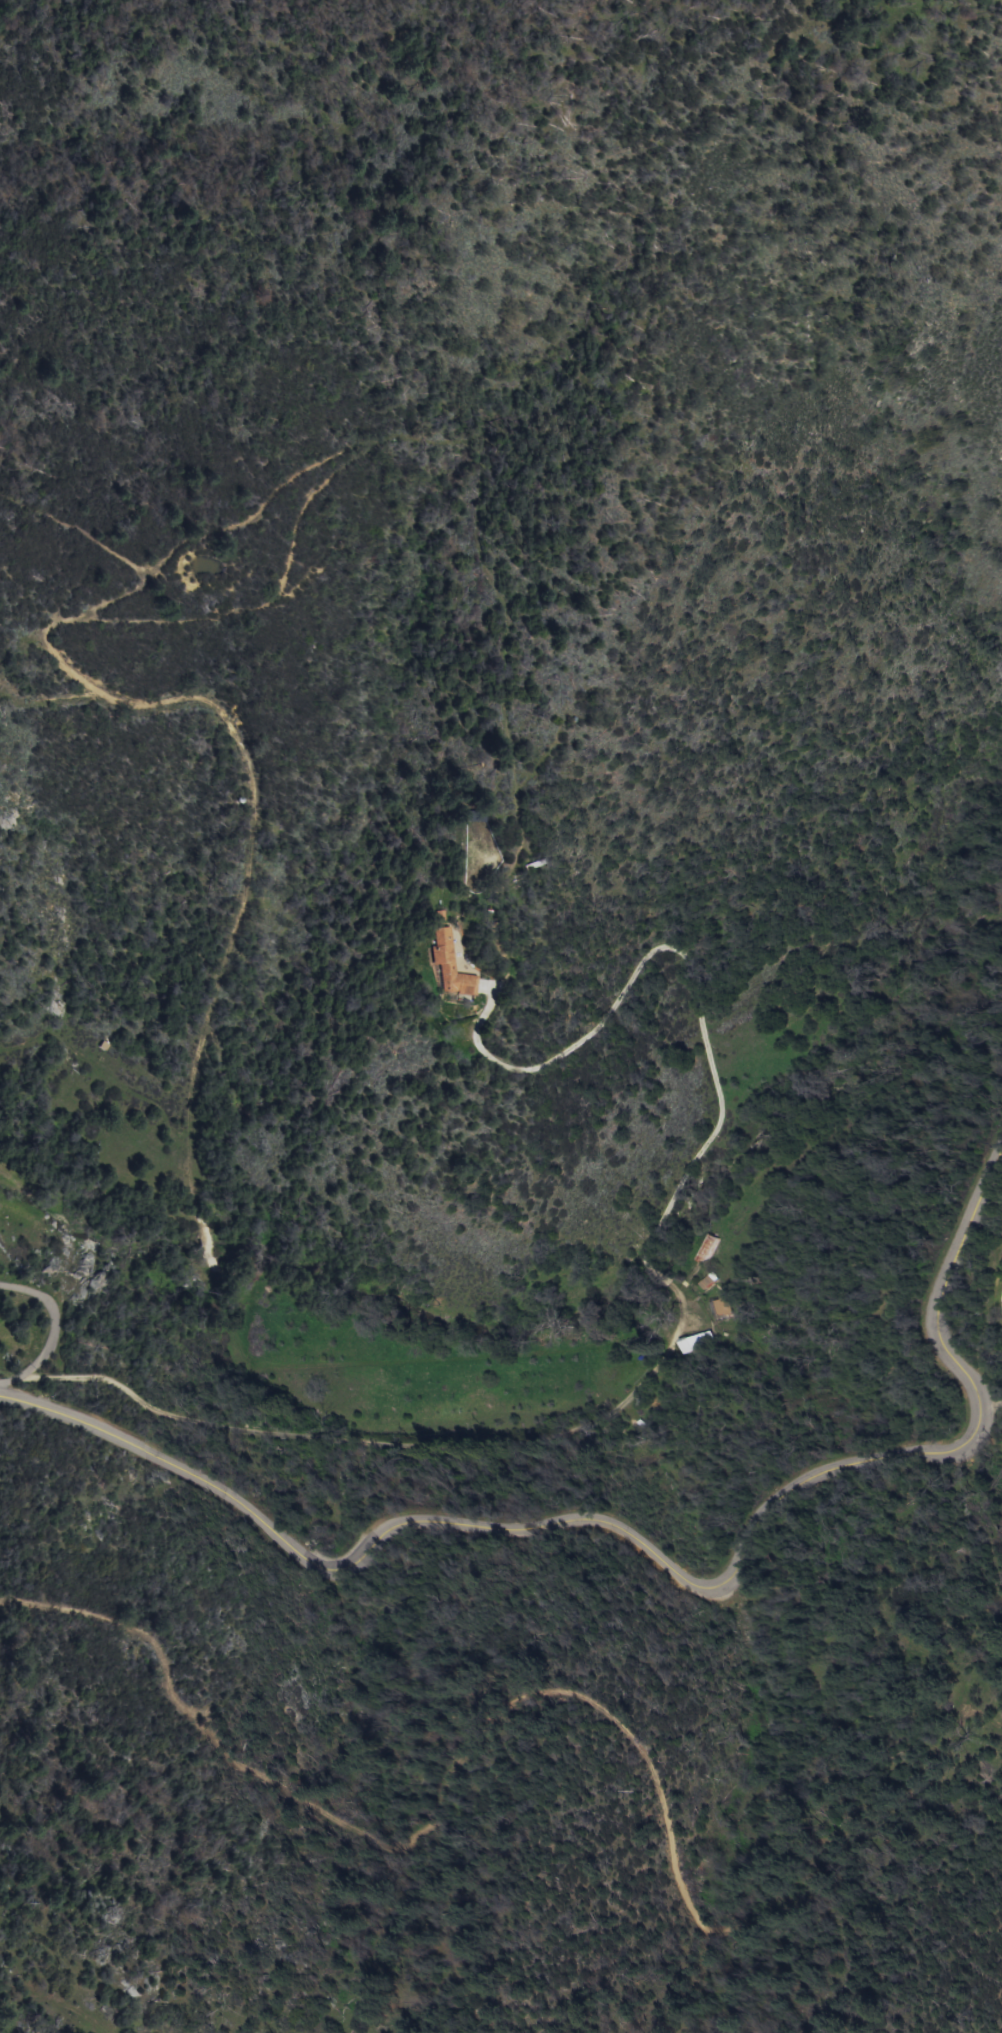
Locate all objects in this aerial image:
building: (450, 964)
road: (658, 1564)

